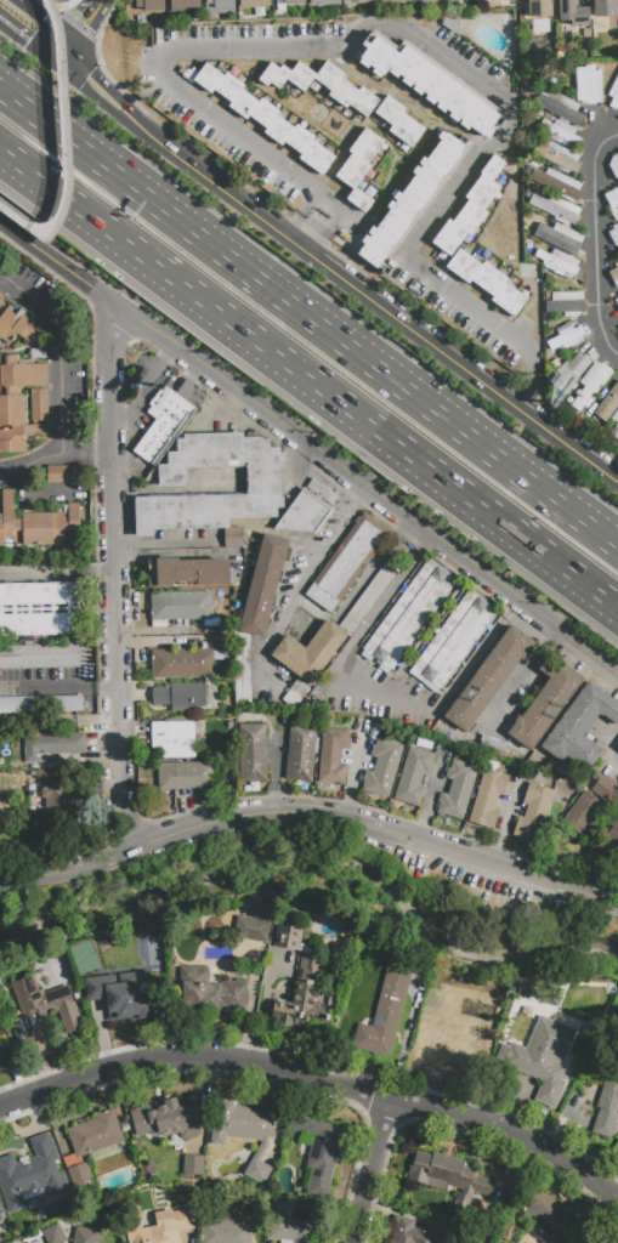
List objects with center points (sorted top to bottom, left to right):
building: (342, 0)
building: (390, 0)
building: (291, 2)
building: (323, 2)
building: (254, 4)
building: (151, 5)
building: (183, 5)
building: (220, 6)
building: (539, 7)
building: (566, 7)
building: (606, 7)
road: (46, 22)
traffic signals: (85, 24)
building: (540, 25)
road: (415, 27)
road: (83, 28)
traffic signals: (25, 44)
road: (28, 45)
traffic signals: (86, 79)
building: (430, 84)
building: (585, 84)
building: (322, 85)
building: (613, 95)
building: (559, 107)
building: (265, 118)
building: (398, 123)
building: (561, 134)
road: (63, 142)
building: (557, 155)
building: (614, 165)
building: (359, 168)
building: (559, 182)
building: (414, 199)
building: (612, 202)
building: (470, 209)
building: (559, 209)
building: (613, 235)
building: (560, 237)
road: (597, 244)
building: (557, 262)
road: (335, 271)
building: (614, 274)
building: (486, 282)
building: (0, 296)
building: (1, 299)
building: (617, 300)
building: (565, 302)
road: (308, 319)
building: (18, 328)
building: (565, 335)
building: (38, 354)
road: (166, 362)
building: (571, 373)
road: (63, 380)
road: (308, 381)
building: (590, 384)
road: (151, 387)
building: (18, 403)
building: (608, 404)
building: (39, 405)
building: (163, 425)
building: (614, 426)
road: (308, 444)
road: (85, 453)
building: (61, 475)
building: (262, 476)
building: (308, 509)
building: (38, 524)
building: (232, 538)
road: (317, 562)
building: (342, 568)
road: (56, 569)
building: (187, 573)
road: (114, 575)
building: (263, 585)
building: (368, 598)
building: (180, 605)
building: (41, 608)
building: (407, 617)
building: (453, 642)
building: (310, 652)
building: (42, 655)
building: (182, 664)
road: (521, 670)
road: (57, 687)
road: (379, 688)
building: (295, 694)
building: (180, 696)
building: (475, 697)
building: (41, 704)
building: (580, 728)
building: (174, 739)
building: (51, 744)
building: (492, 745)
road: (612, 751)
building: (253, 753)
building: (301, 753)
building: (333, 755)
building: (382, 766)
building: (47, 777)
building: (413, 777)
building: (185, 782)
road: (351, 782)
building: (600, 783)
building: (457, 789)
building: (489, 798)
building: (57, 806)
road: (311, 812)
building: (583, 812)
building: (532, 813)
road: (503, 819)
building: (611, 842)
building: (251, 929)
building: (288, 935)
building: (306, 966)
building: (528, 987)
building: (210, 992)
building: (121, 993)
building: (459, 995)
building: (301, 1005)
building: (38, 1010)
building: (385, 1012)
building: (449, 1046)
building: (2, 1055)
building: (542, 1058)
road: (321, 1080)
building: (605, 1095)
building: (166, 1119)
building: (244, 1131)
building: (90, 1148)
building: (319, 1150)
building: (194, 1165)
road: (374, 1170)
building: (30, 1174)
building: (449, 1177)
building: (1, 1213)
building: (550, 1218)
building: (161, 1227)
building: (227, 1230)
building: (291, 1231)
building: (409, 1232)
building: (55, 1235)
building: (85, 1236)
building: (470, 1239)
building: (38, 1242)
road: (617, 1242)

